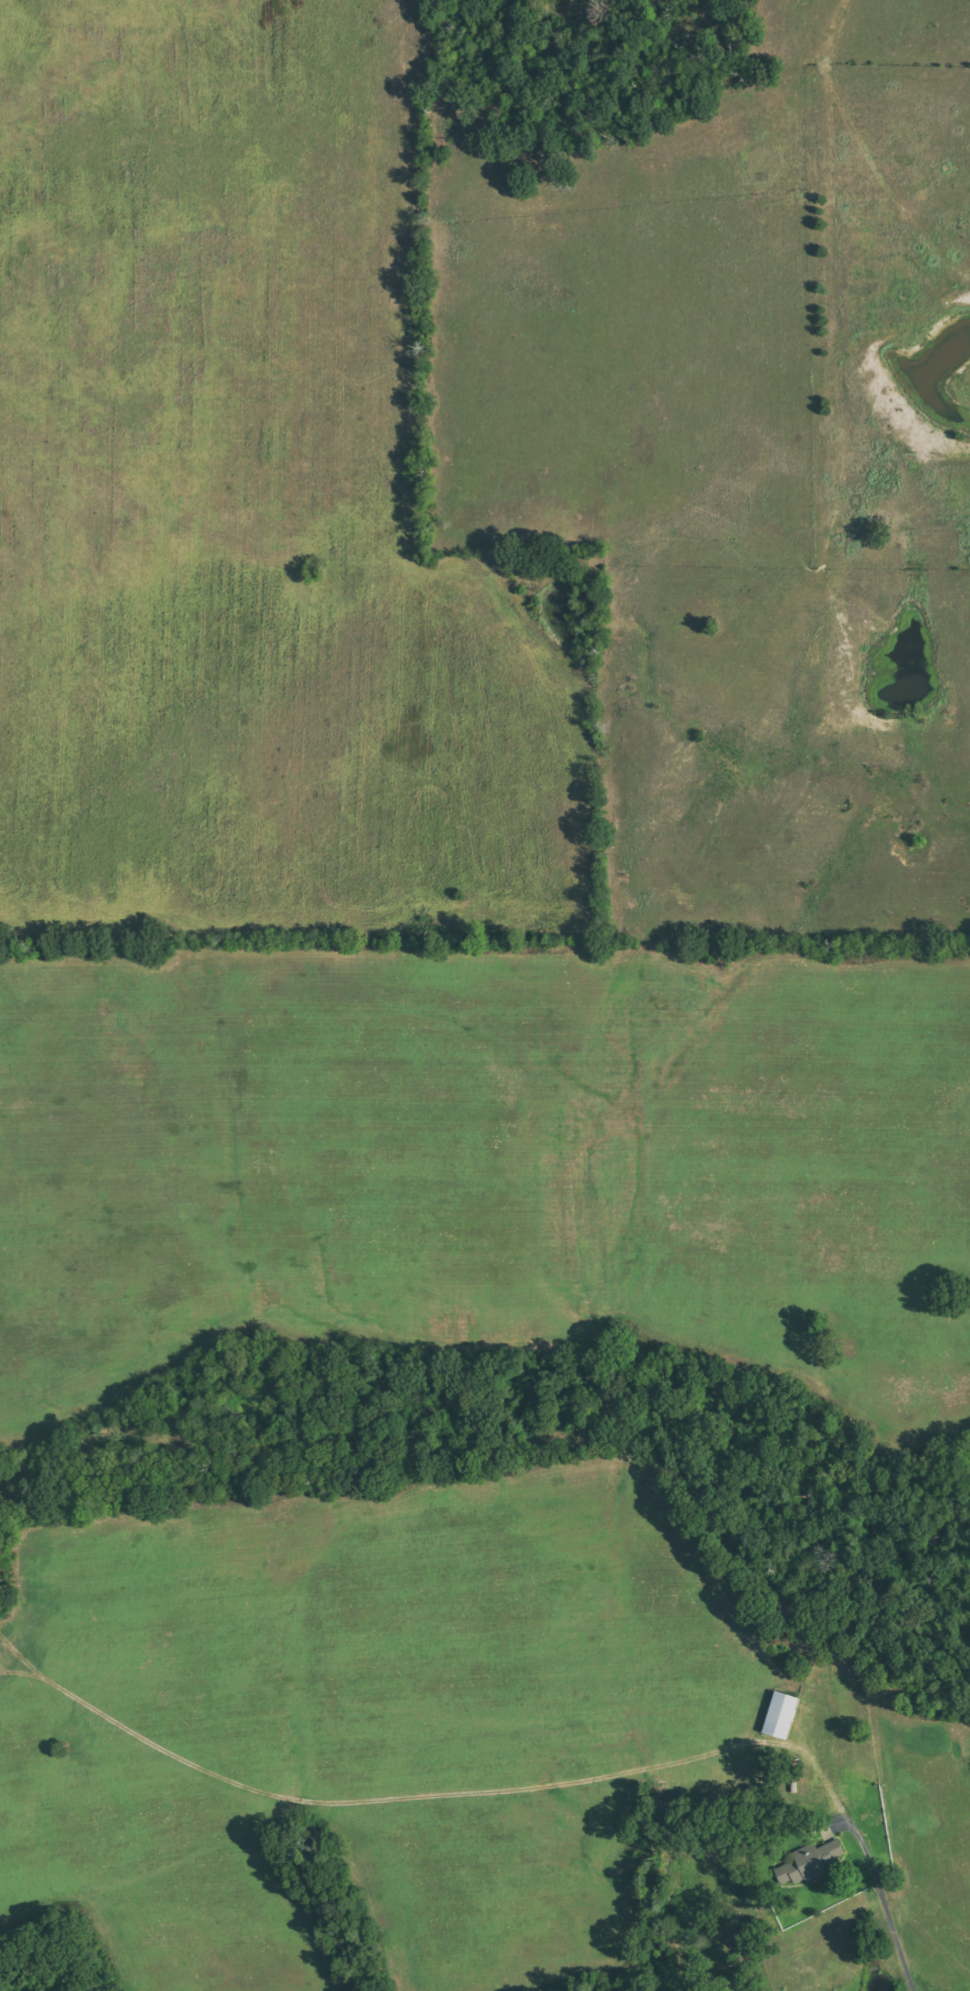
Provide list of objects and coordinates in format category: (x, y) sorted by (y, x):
building: (781, 1714)
building: (812, 1862)
road: (886, 1915)

